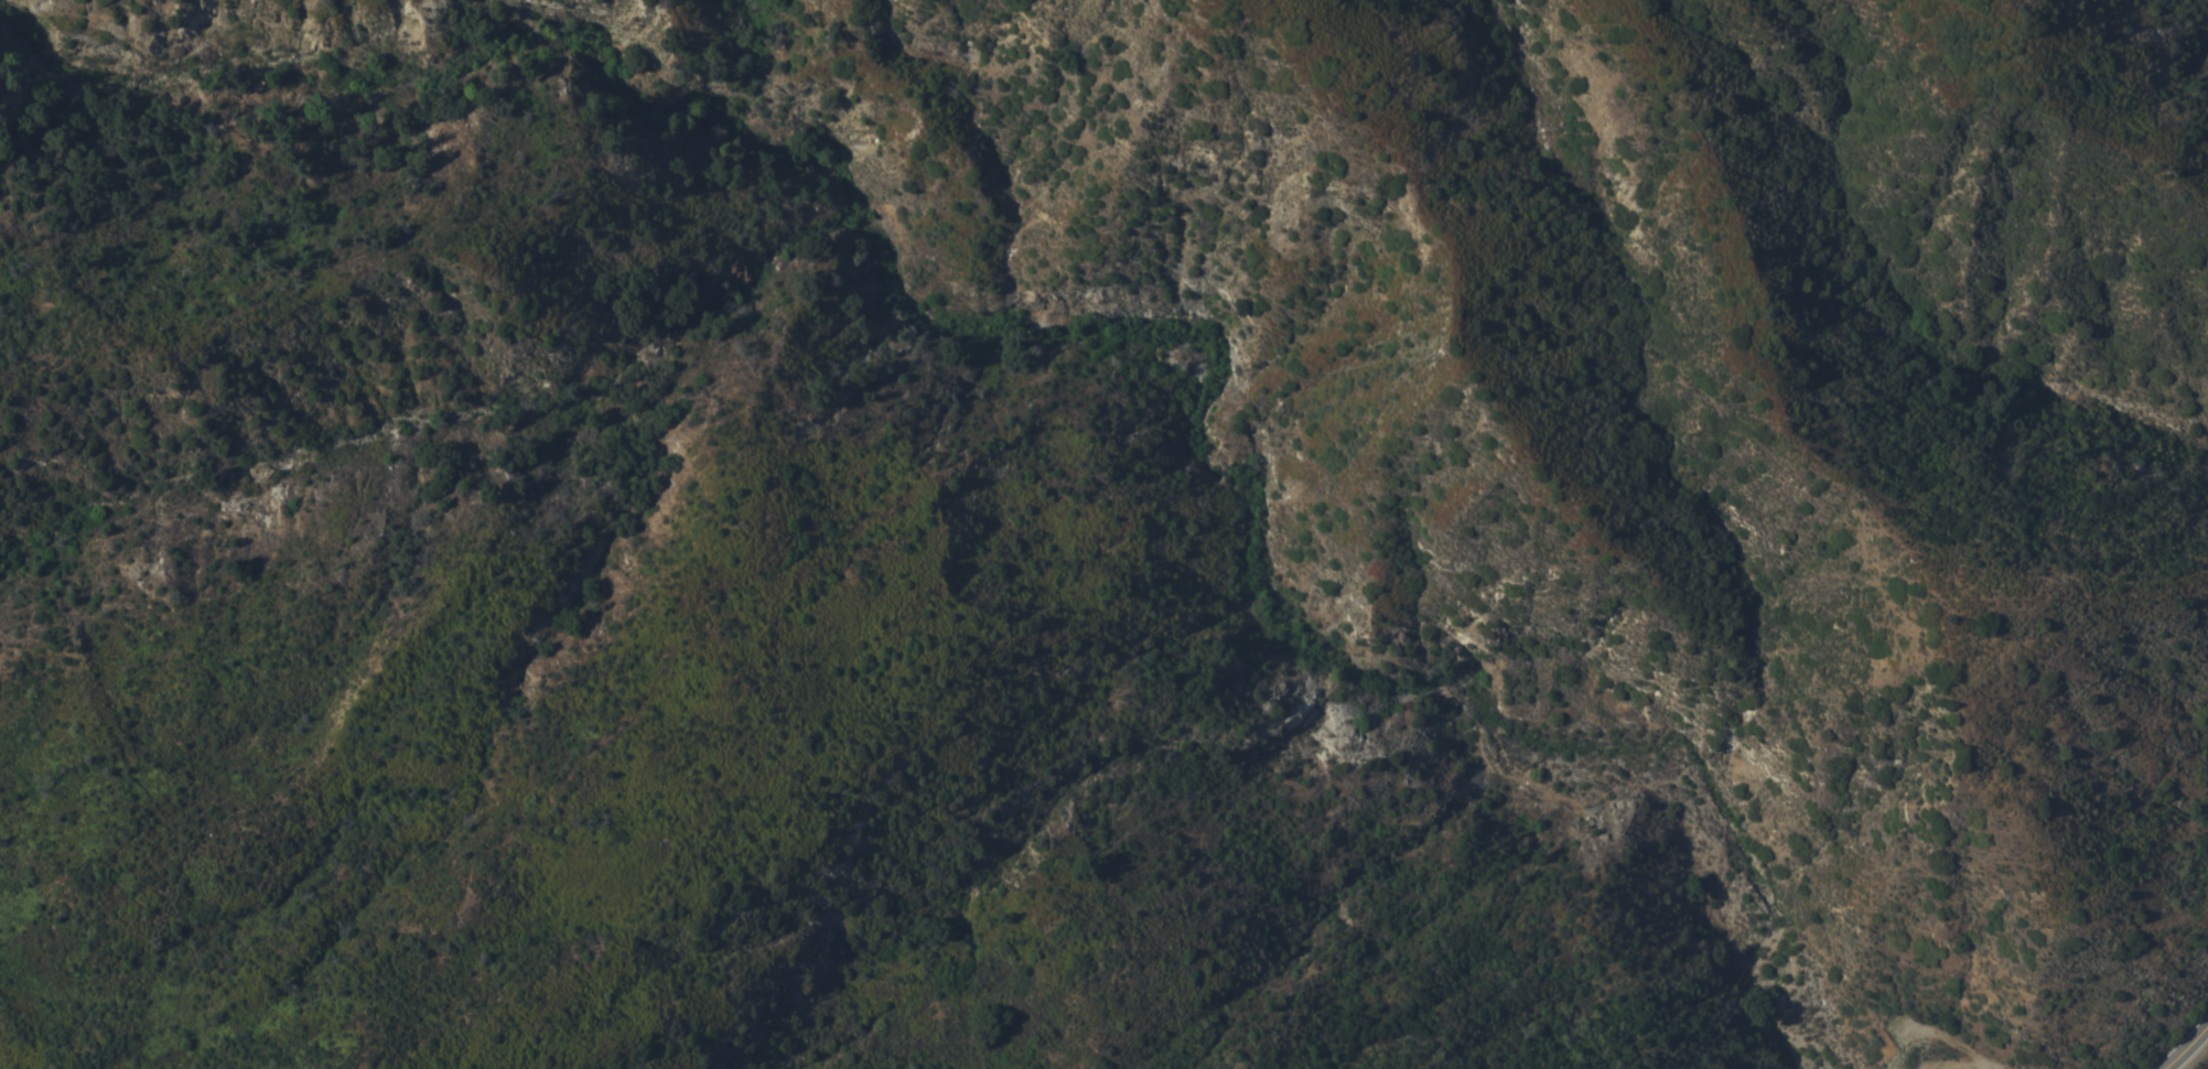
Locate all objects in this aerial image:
road: (2188, 1048)

